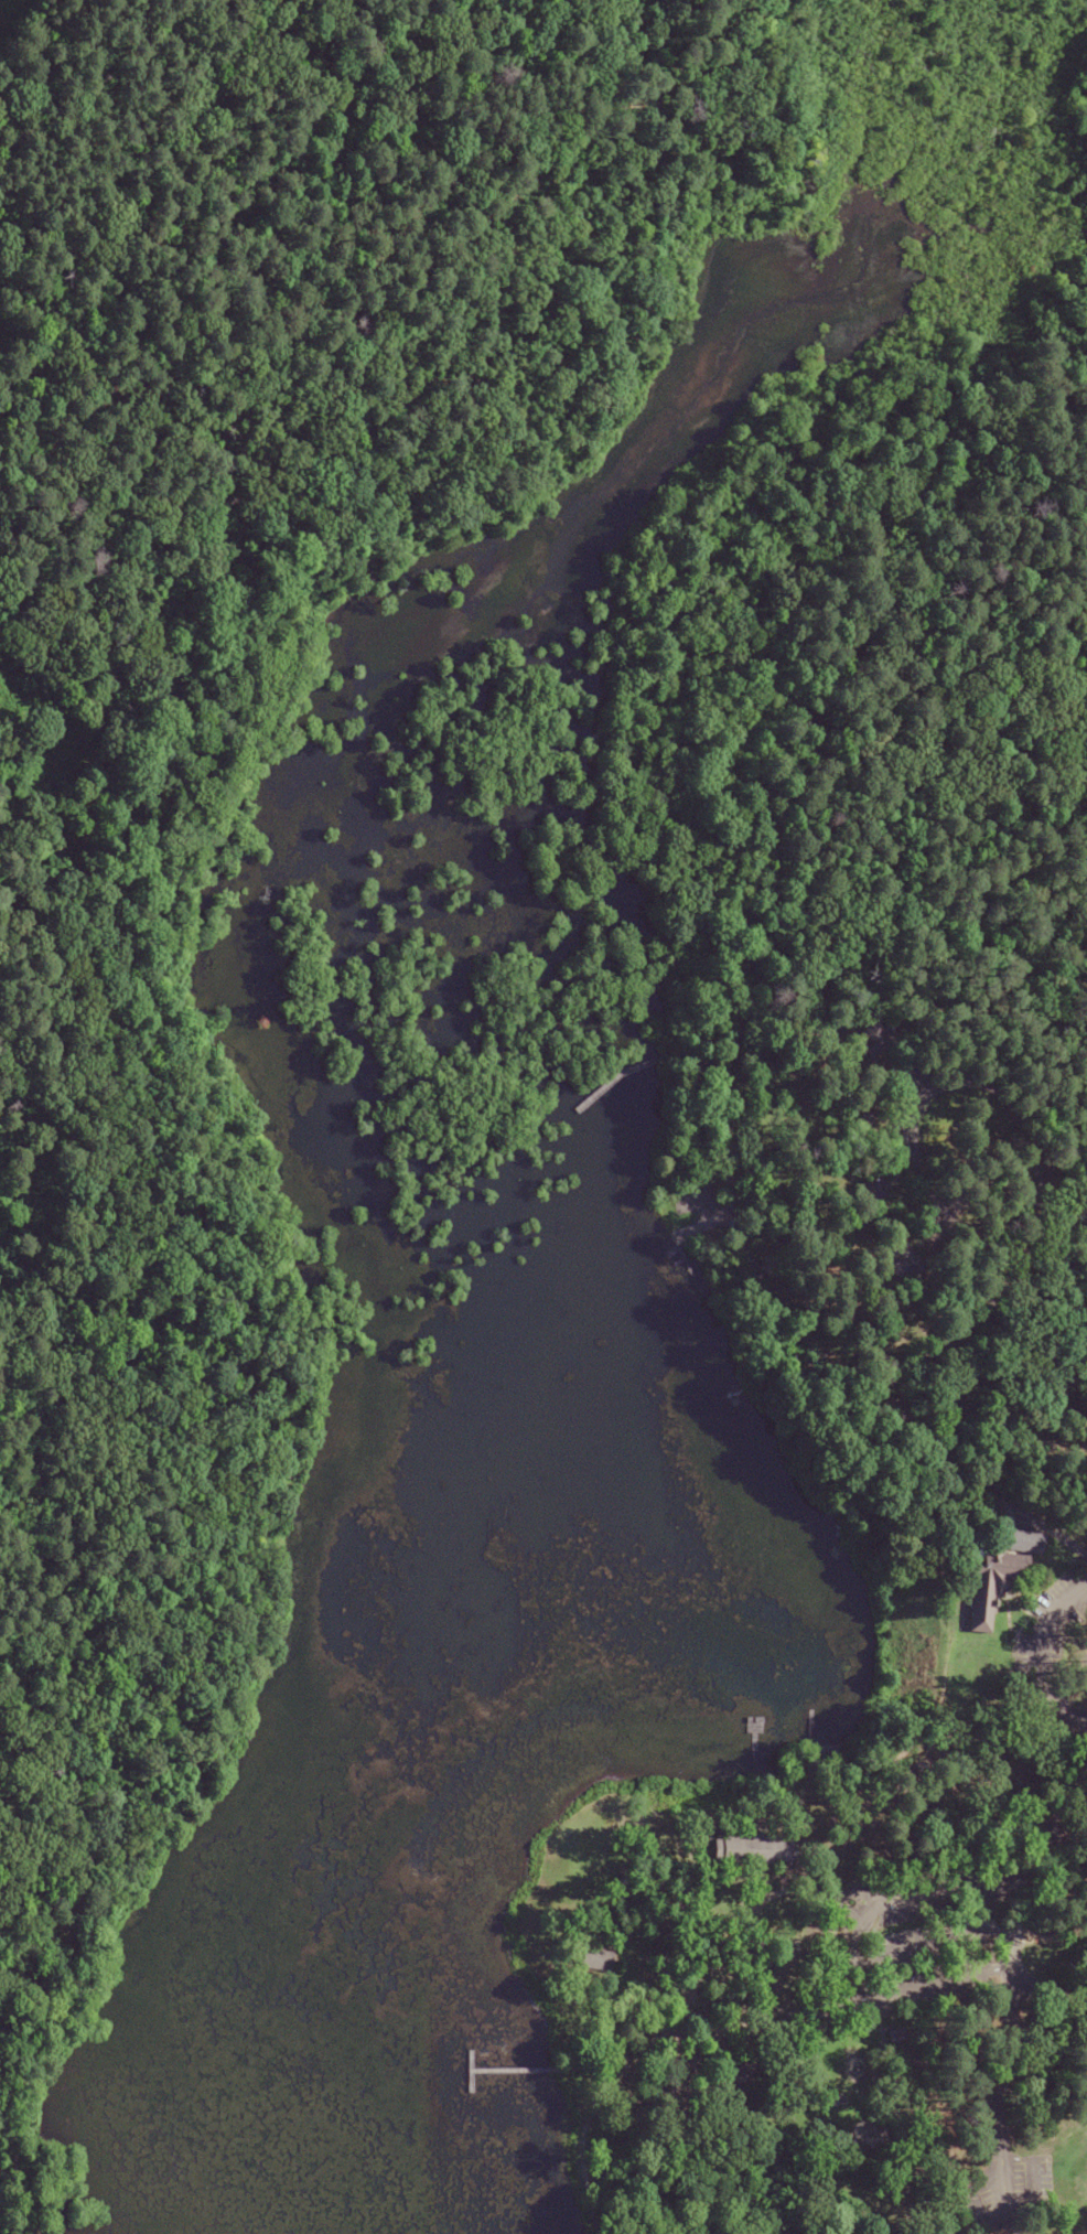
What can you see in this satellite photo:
road: (799, 727)
road: (173, 1001)
building: (879, 1039)
road: (700, 1064)
road: (620, 1074)
park: (547, 1124)
road: (701, 1224)
road: (682, 1257)
road: (788, 1314)
road: (978, 1314)
building: (1032, 1542)
road: (1045, 1651)
road: (930, 1710)
road: (1024, 1840)
building: (747, 1849)
road: (929, 1946)
building: (588, 1959)
road: (850, 1963)
road: (1048, 1993)
road: (670, 2019)
road: (743, 2023)
road: (516, 2070)
road: (471, 2071)
road: (577, 2091)
road: (1001, 2113)
road: (970, 2209)

